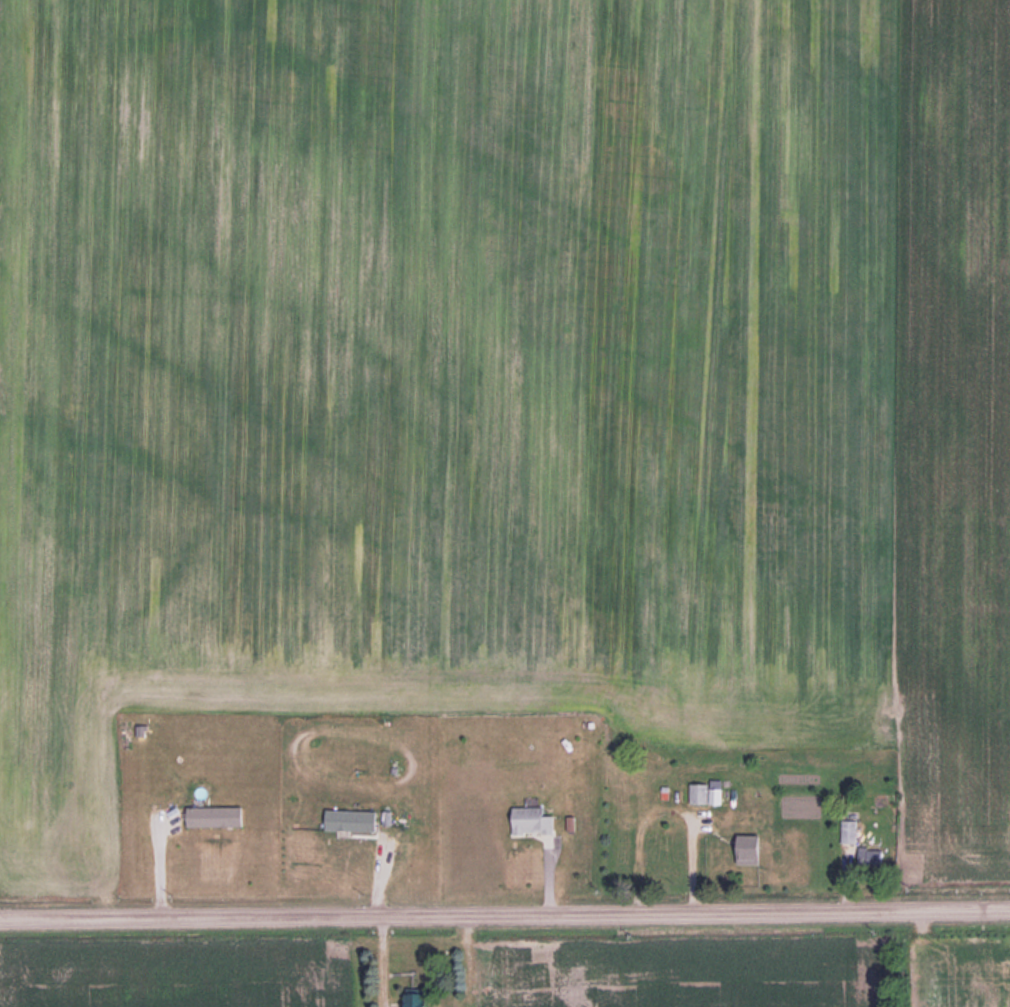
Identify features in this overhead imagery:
crop: (506, 383)
building: (706, 793)
building: (212, 816)
building: (530, 820)
building: (350, 821)
building: (848, 832)
building: (747, 850)
building: (868, 855)
road: (504, 912)
road: (379, 960)
building: (414, 1000)

